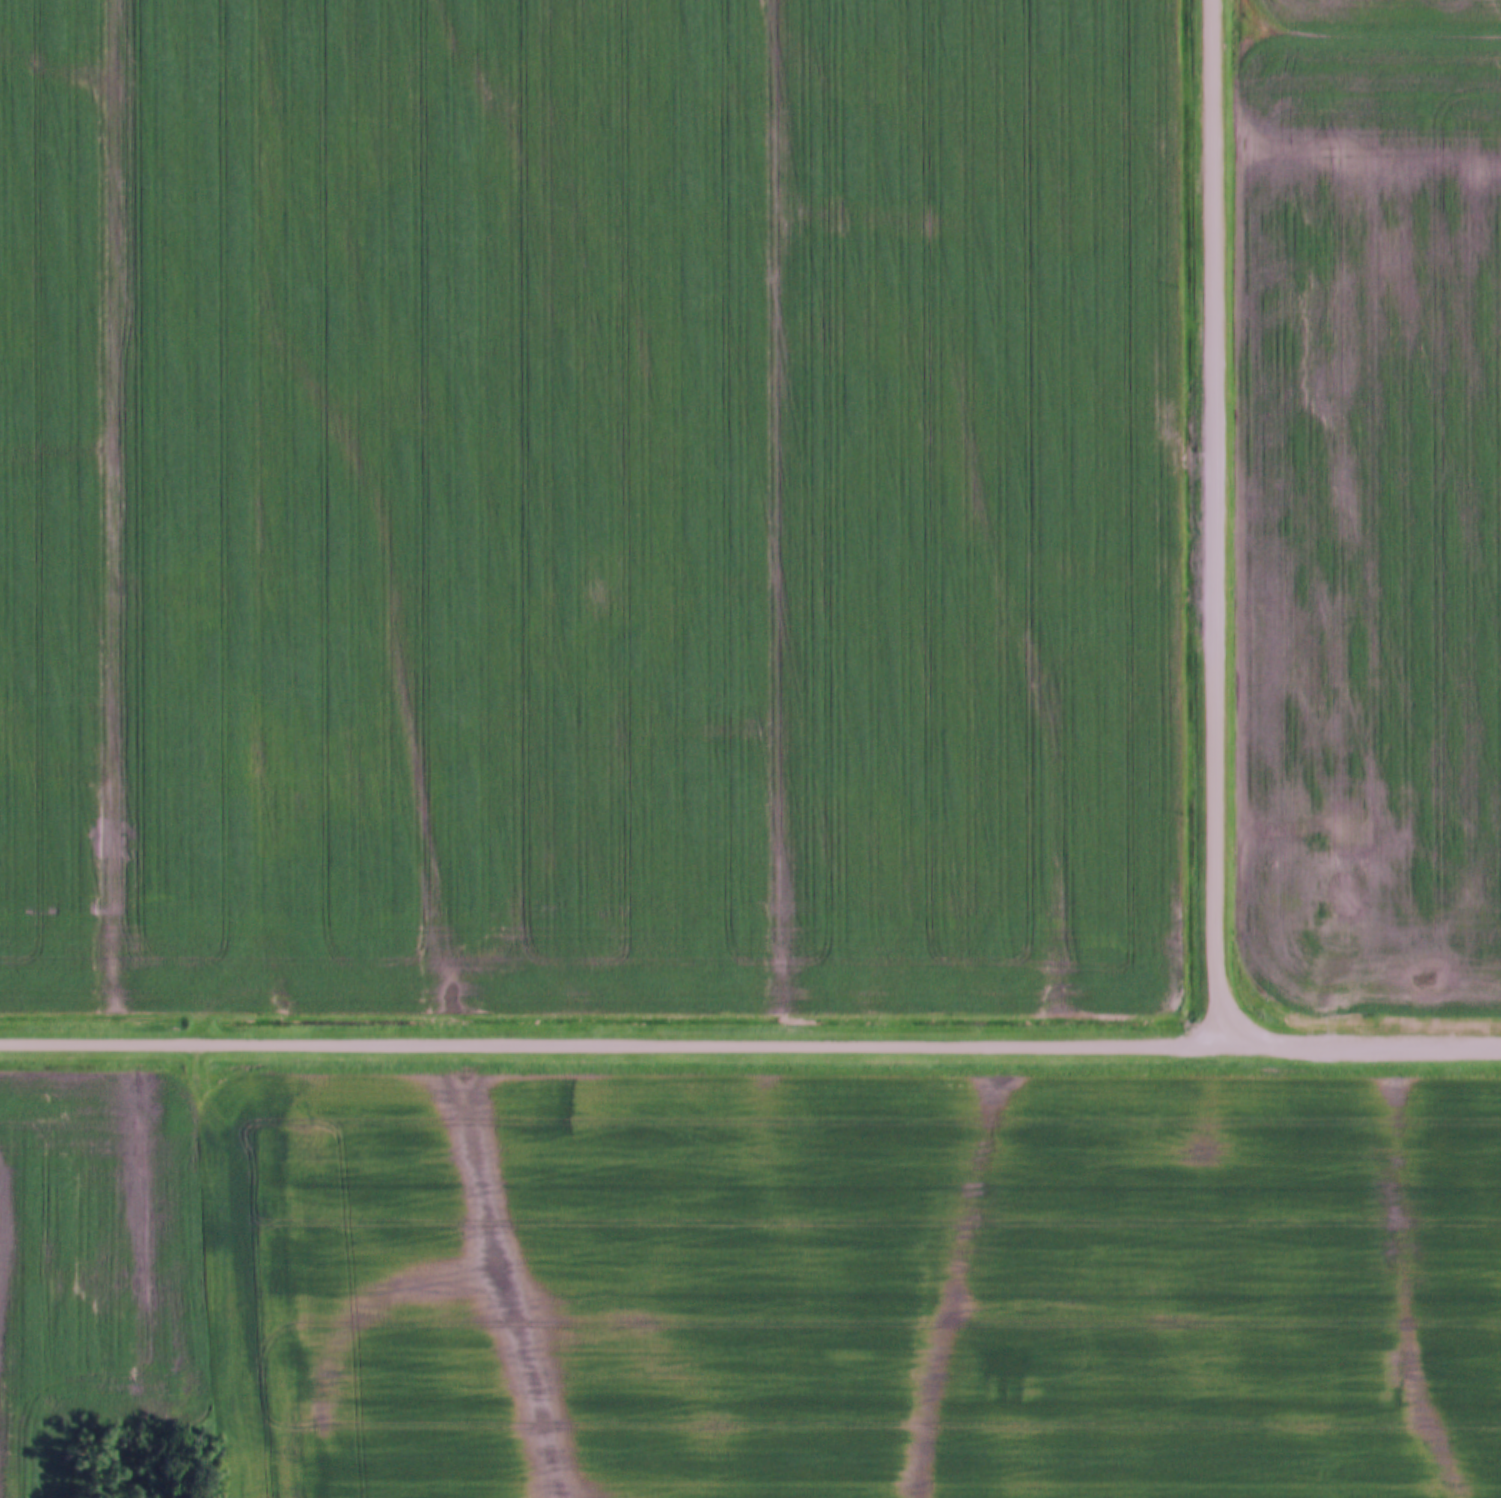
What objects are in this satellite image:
road: (1358, 35)
road: (1218, 648)
road: (643, 1050)

